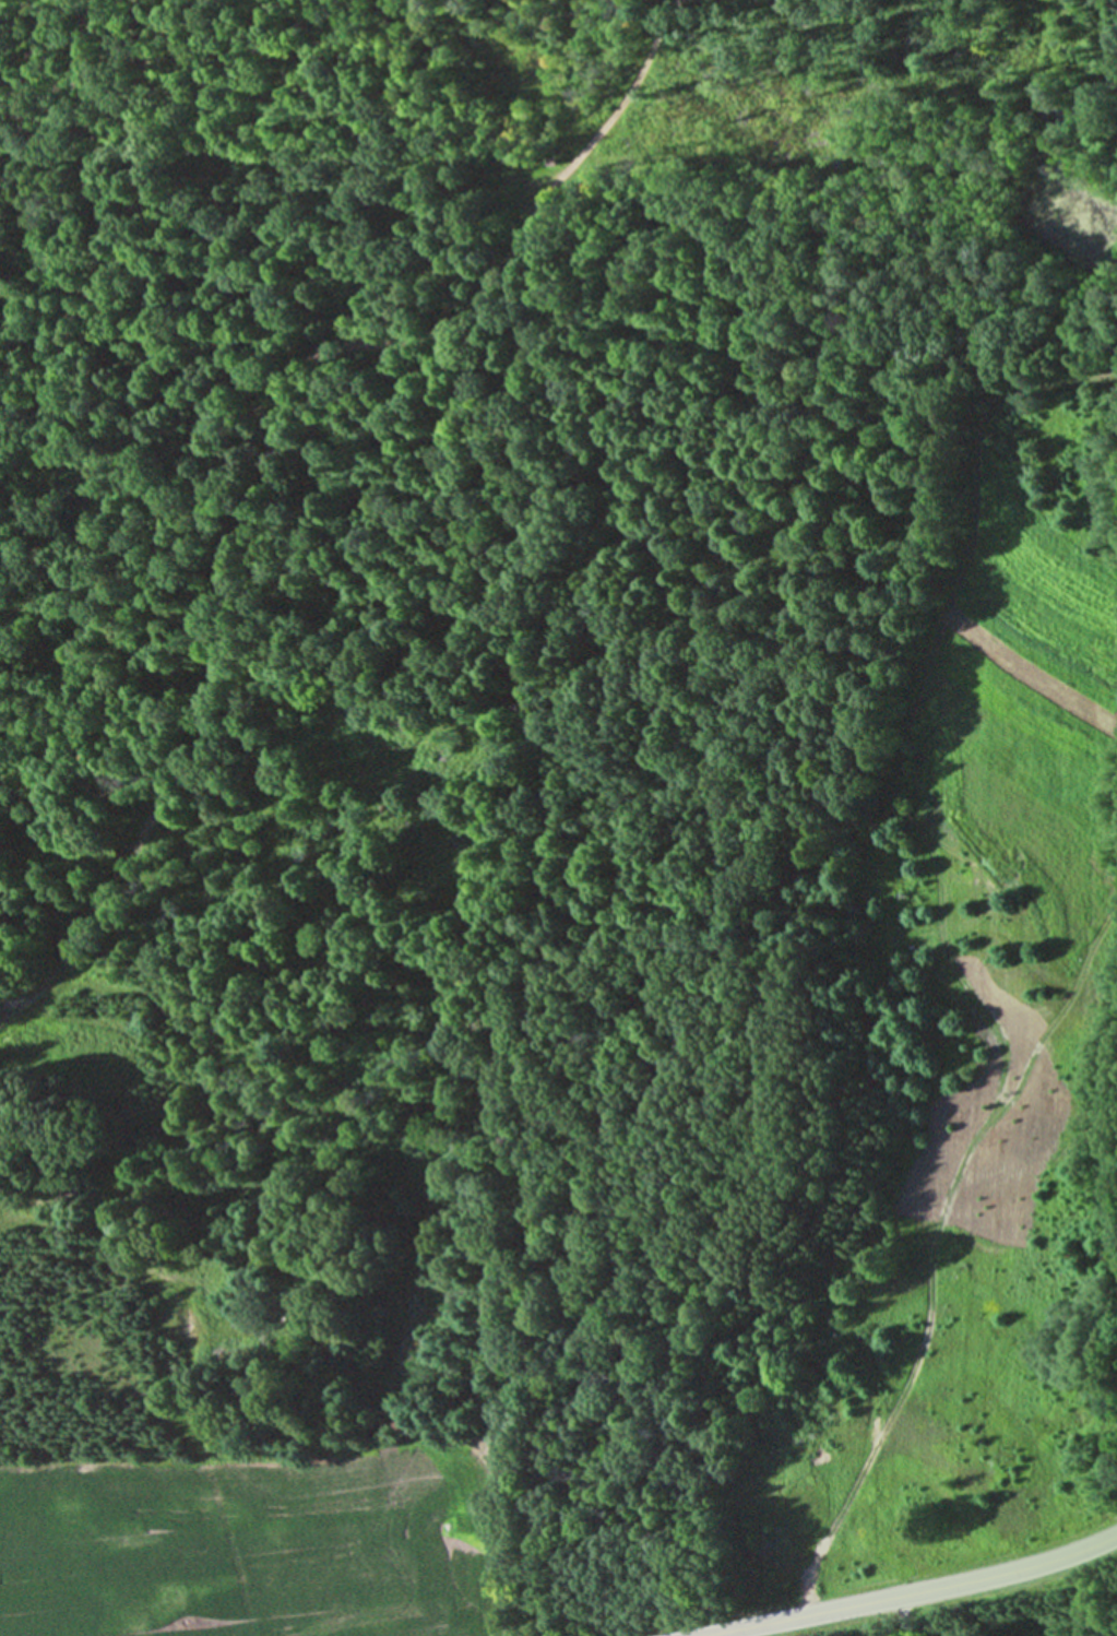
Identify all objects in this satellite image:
road: (286, 482)
road: (913, 1593)
road: (895, 1616)

